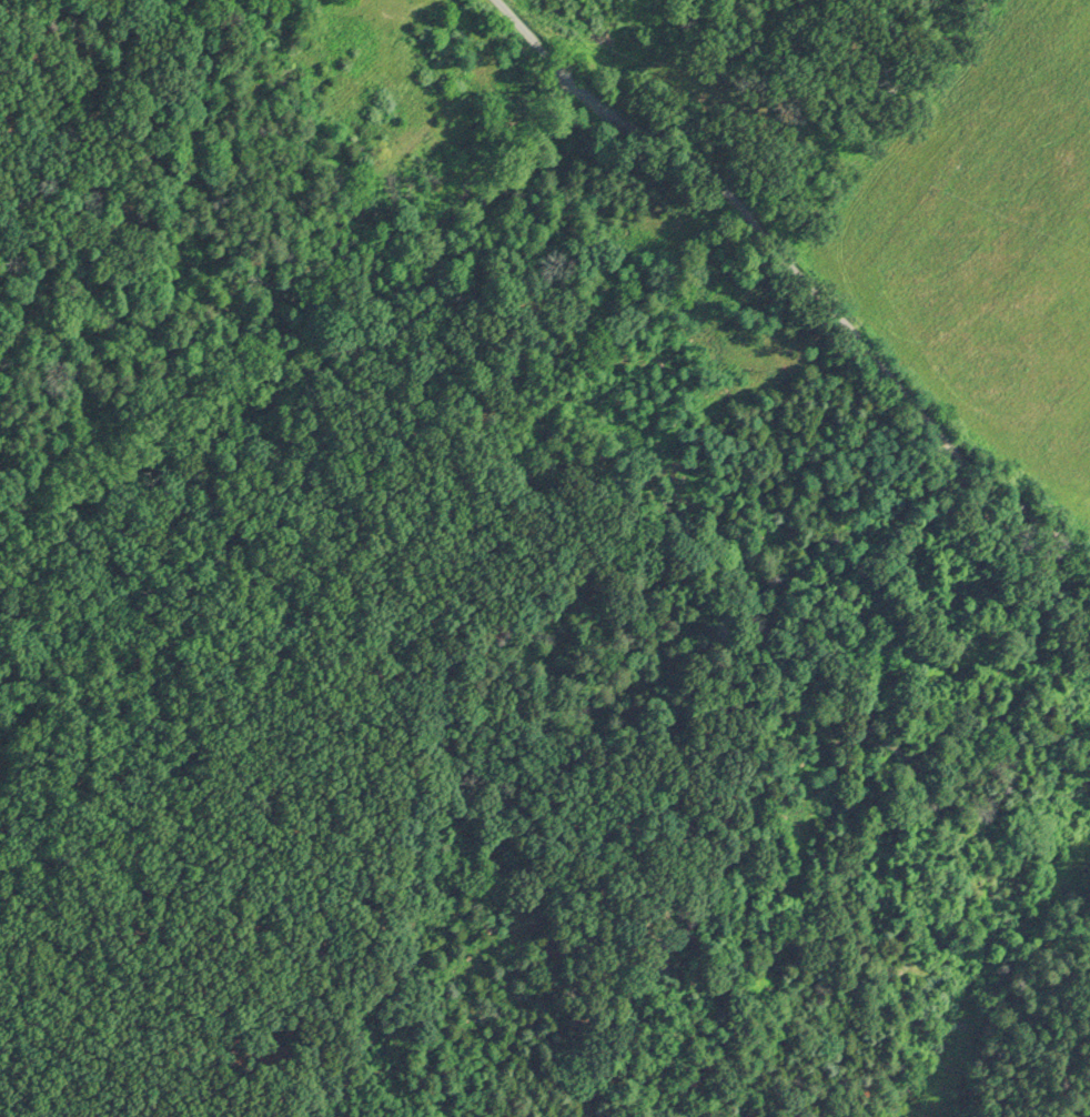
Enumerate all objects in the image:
road: (818, 241)

